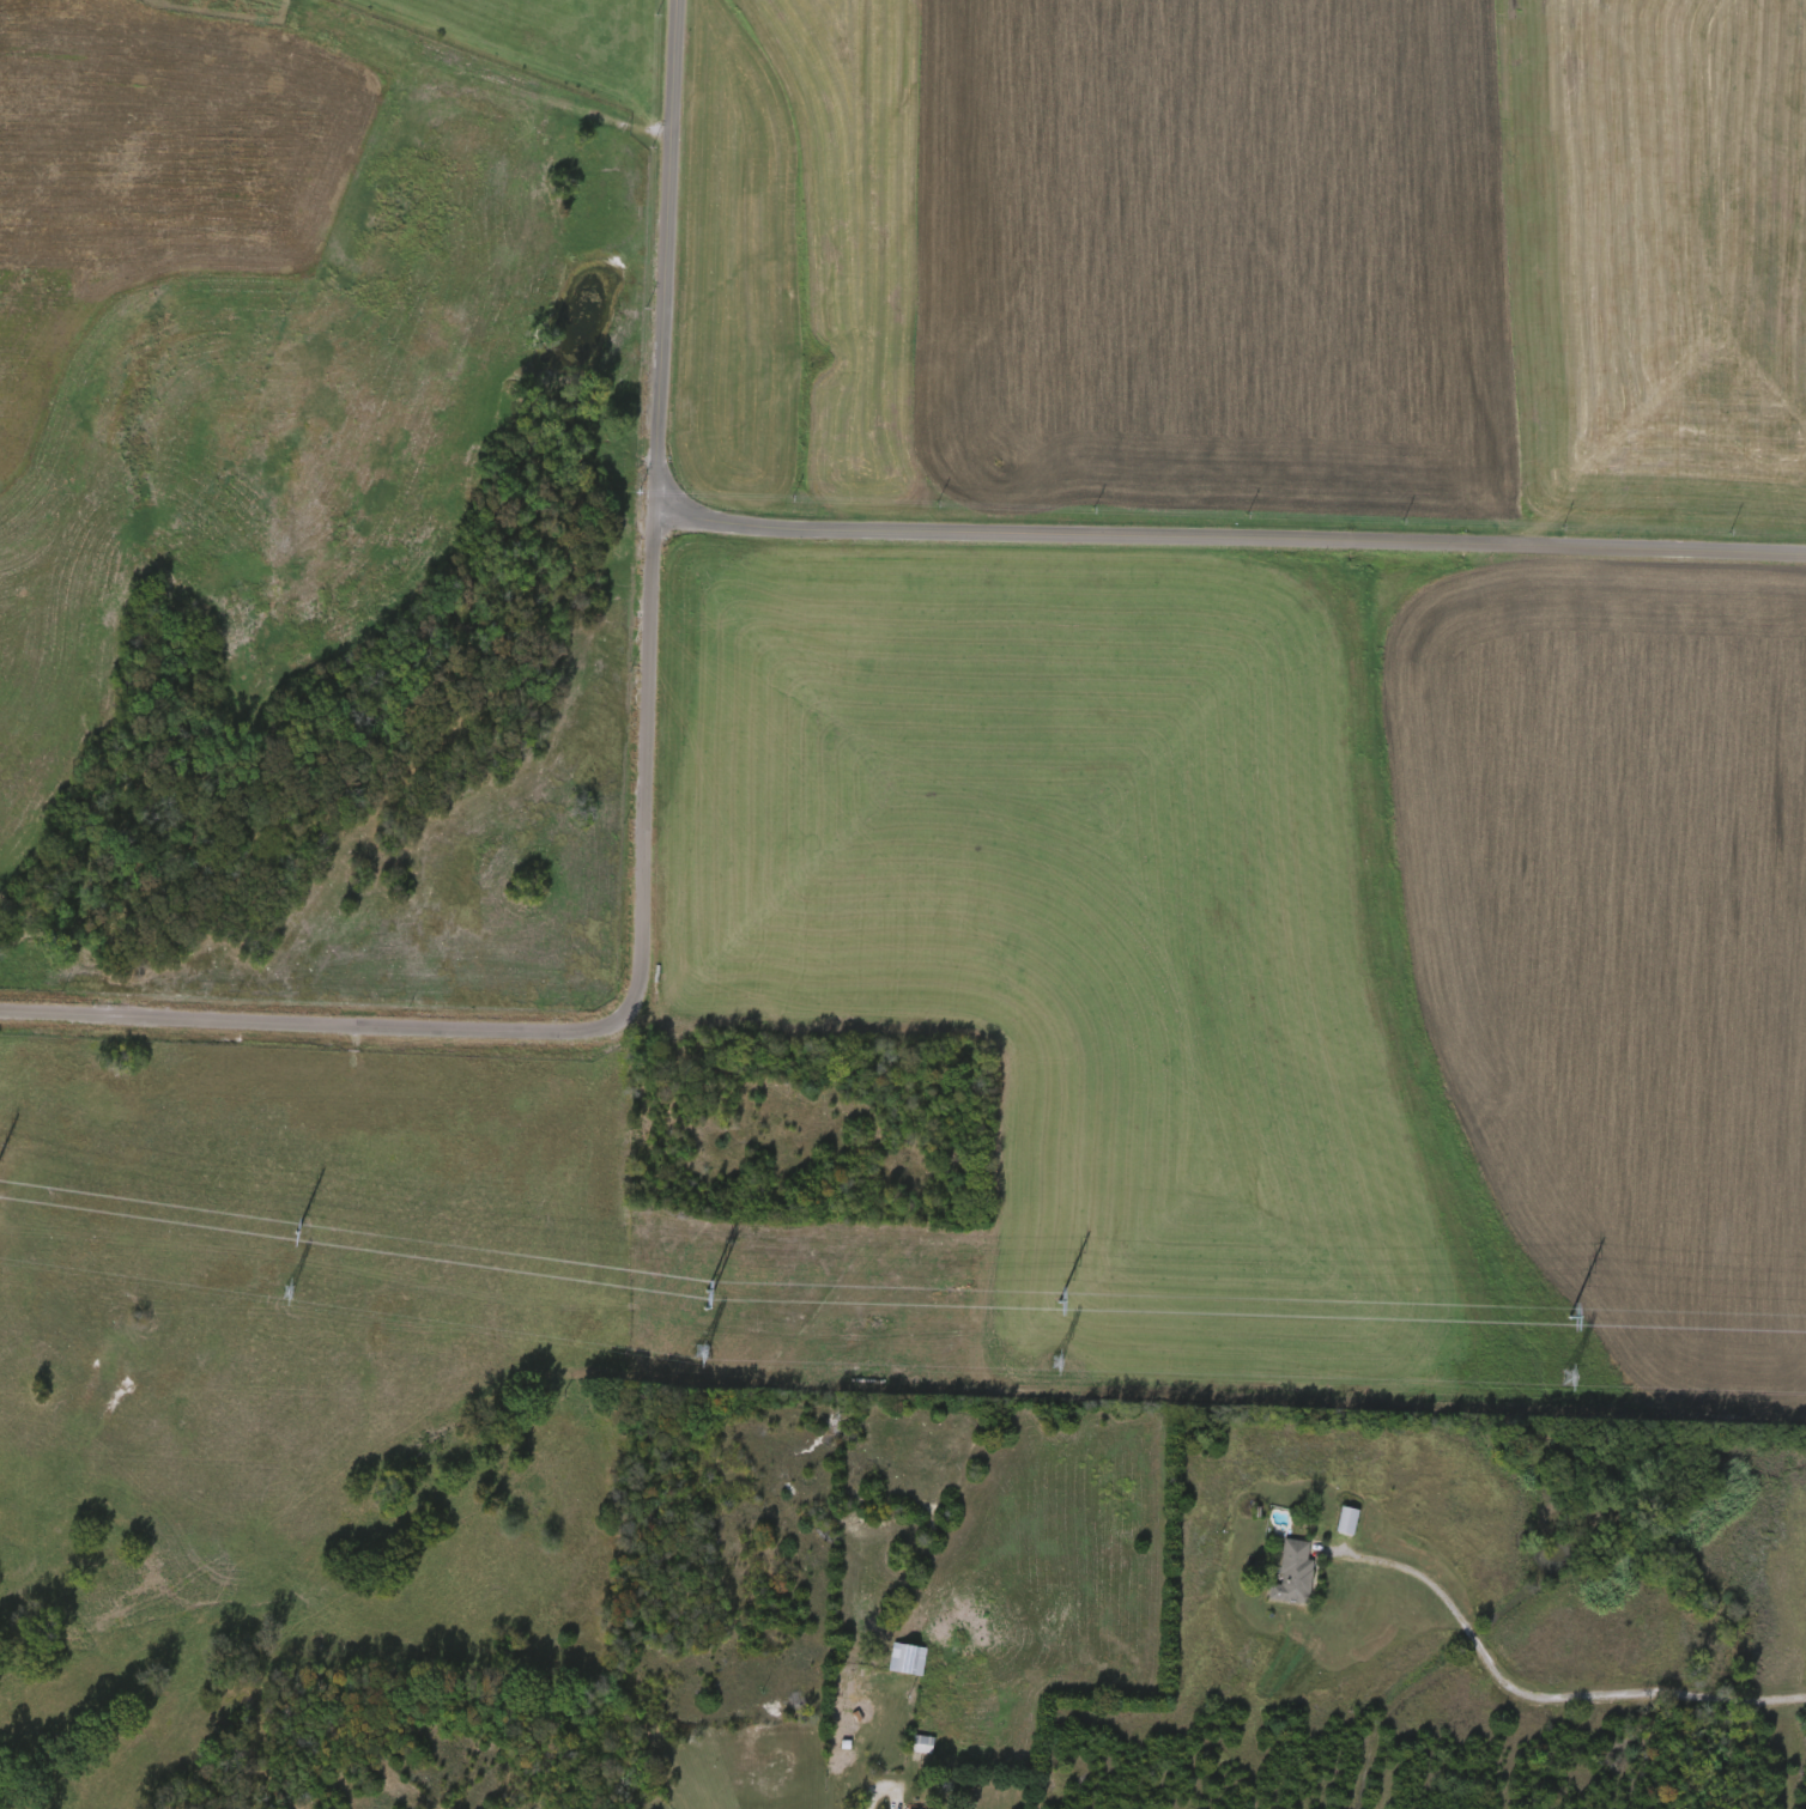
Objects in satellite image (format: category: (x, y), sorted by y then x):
road: (508, 63)
road: (1216, 540)
road: (644, 825)
power tower: (292, 1234)
power tower: (707, 1292)
power tower: (1055, 1301)
power tower: (1564, 1319)
building: (1343, 1522)
building: (1289, 1574)
building: (903, 1662)
road: (1535, 1699)
building: (917, 1746)
road: (885, 1786)

